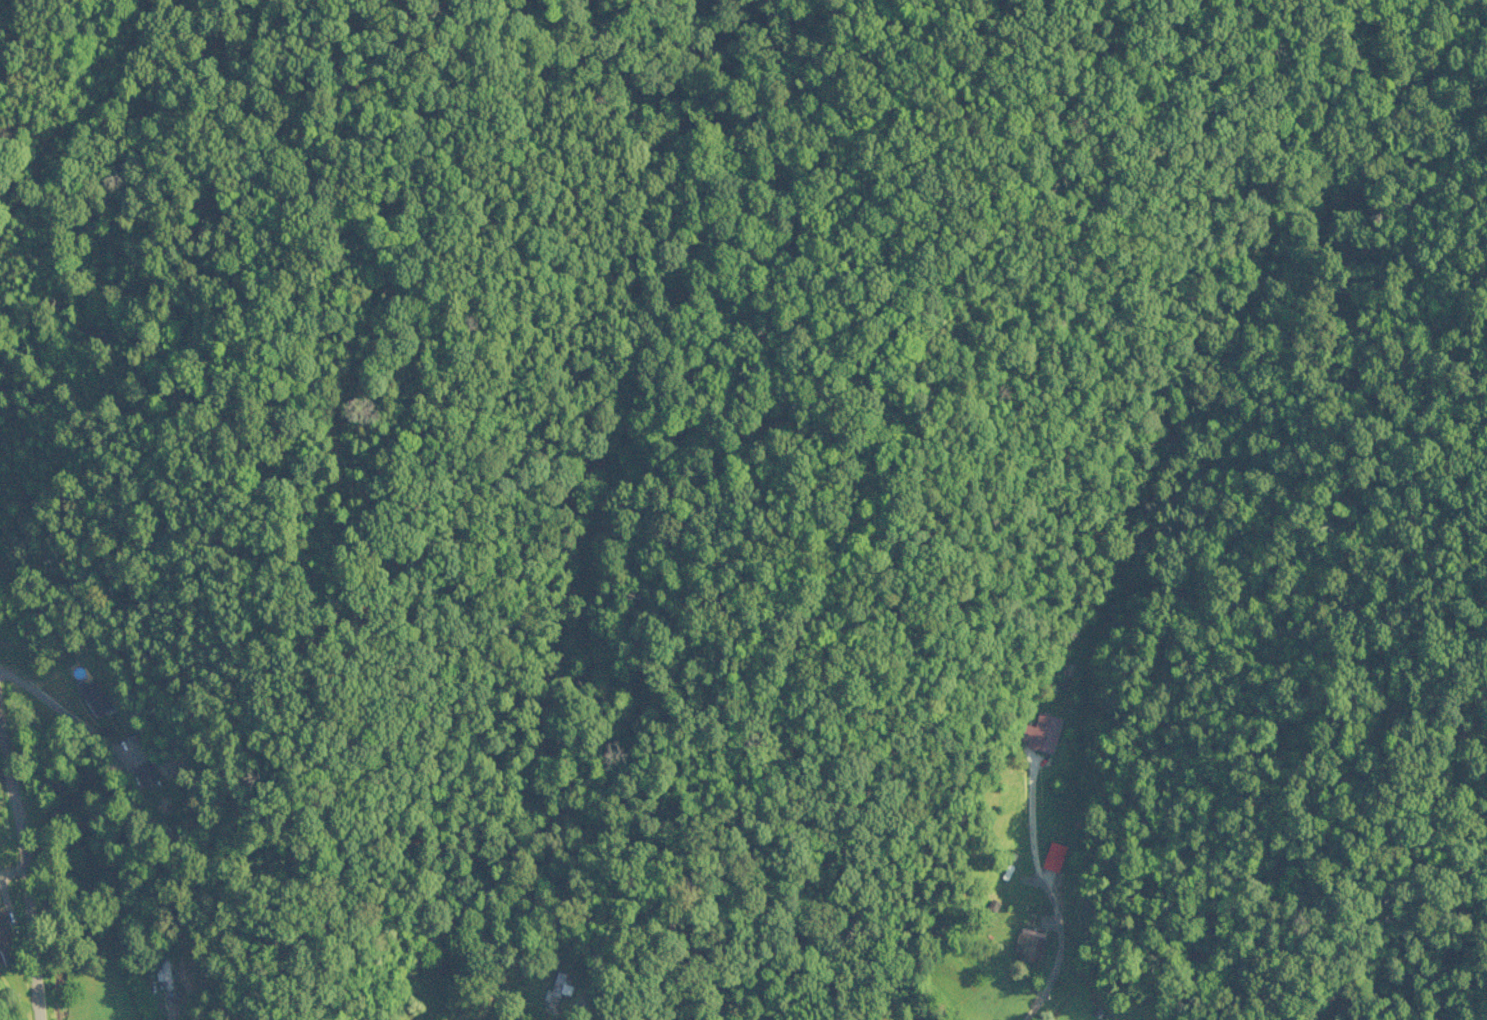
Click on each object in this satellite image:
building: (1036, 734)
building: (1050, 858)
building: (1024, 943)
road: (12, 952)
building: (558, 995)
road: (524, 1015)

